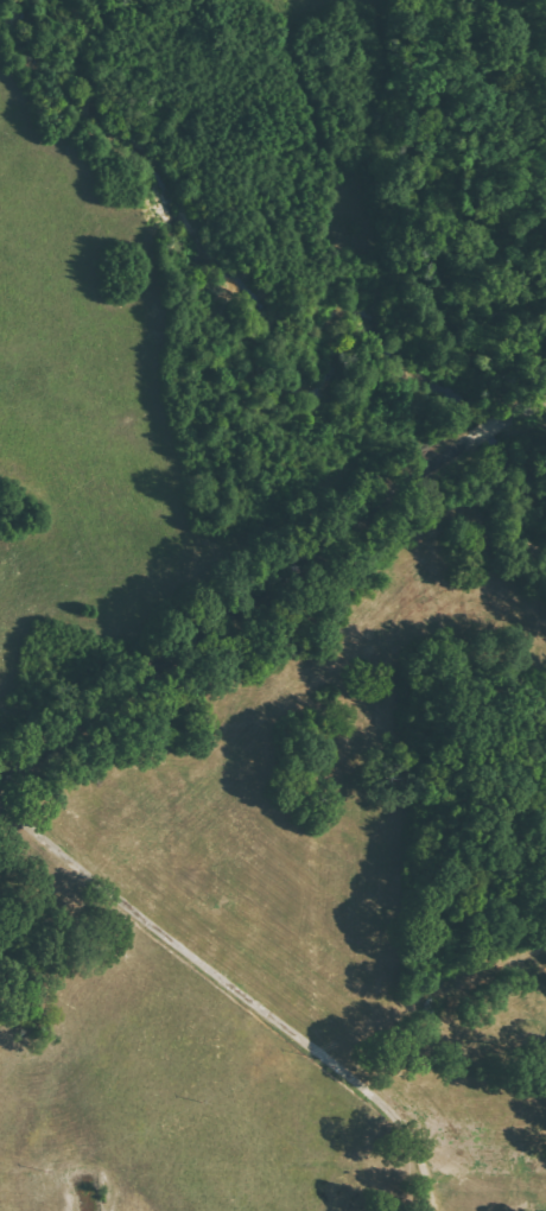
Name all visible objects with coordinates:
road: (272, 614)
road: (246, 989)

